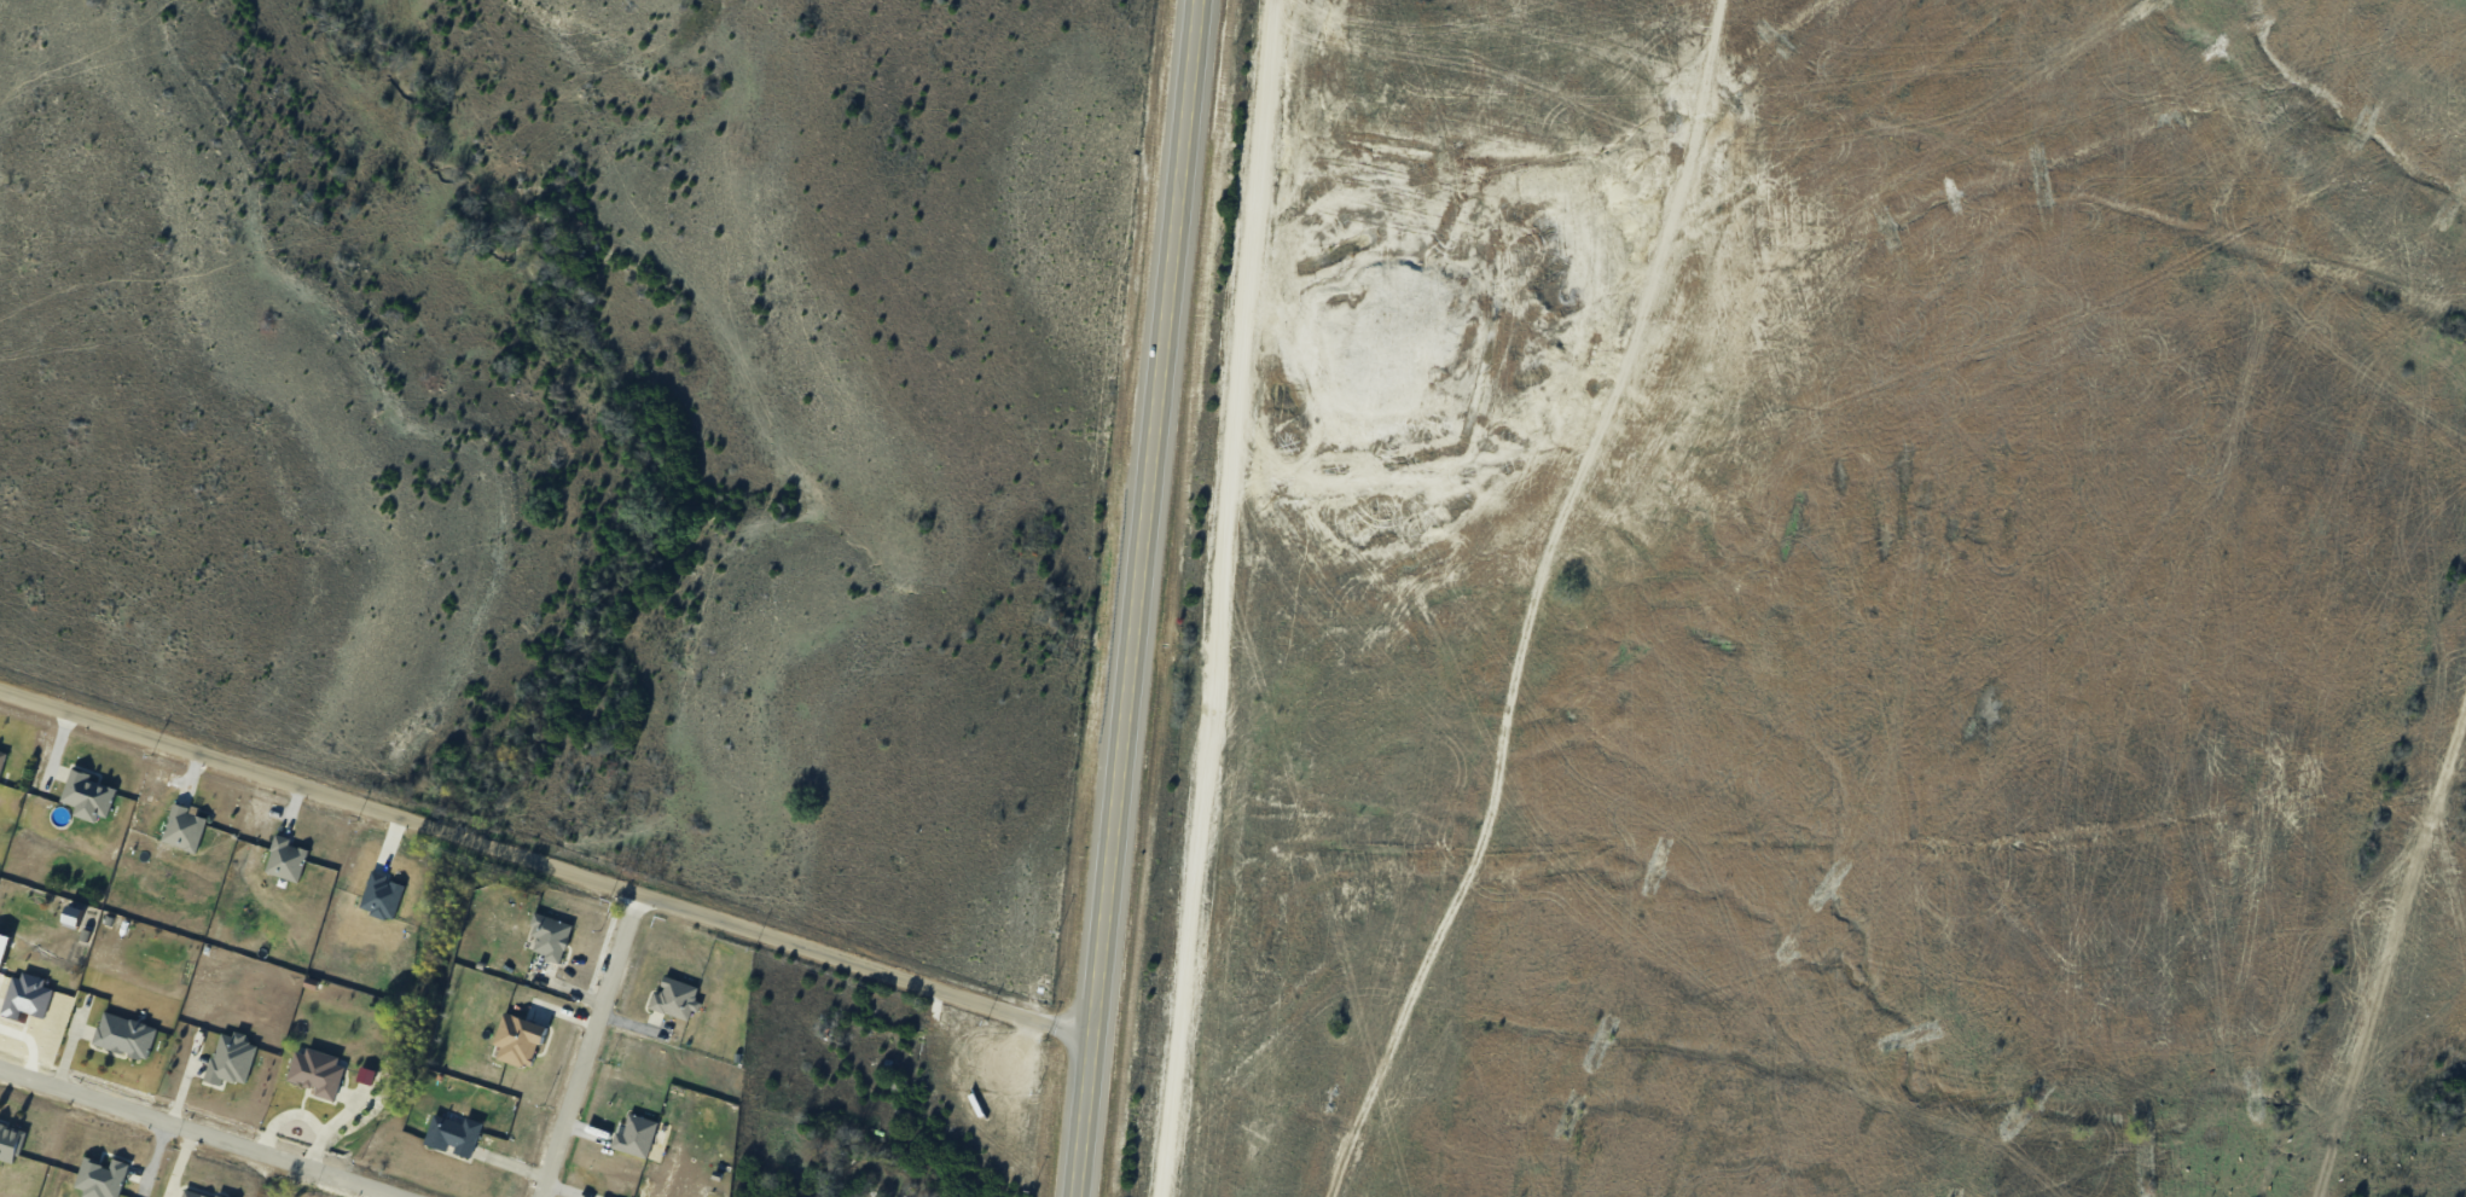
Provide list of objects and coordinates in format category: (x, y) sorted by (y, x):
road: (1669, 205)
road: (1137, 598)
road: (1213, 598)
building: (2, 759)
building: (91, 792)
building: (186, 826)
building: (289, 856)
road: (546, 864)
building: (551, 935)
building: (28, 994)
building: (674, 996)
building: (126, 1033)
building: (520, 1038)
road: (584, 1045)
building: (232, 1057)
building: (318, 1070)
road: (202, 1132)
building: (456, 1132)
building: (636, 1134)
building: (11, 1140)
building: (198, 1192)

